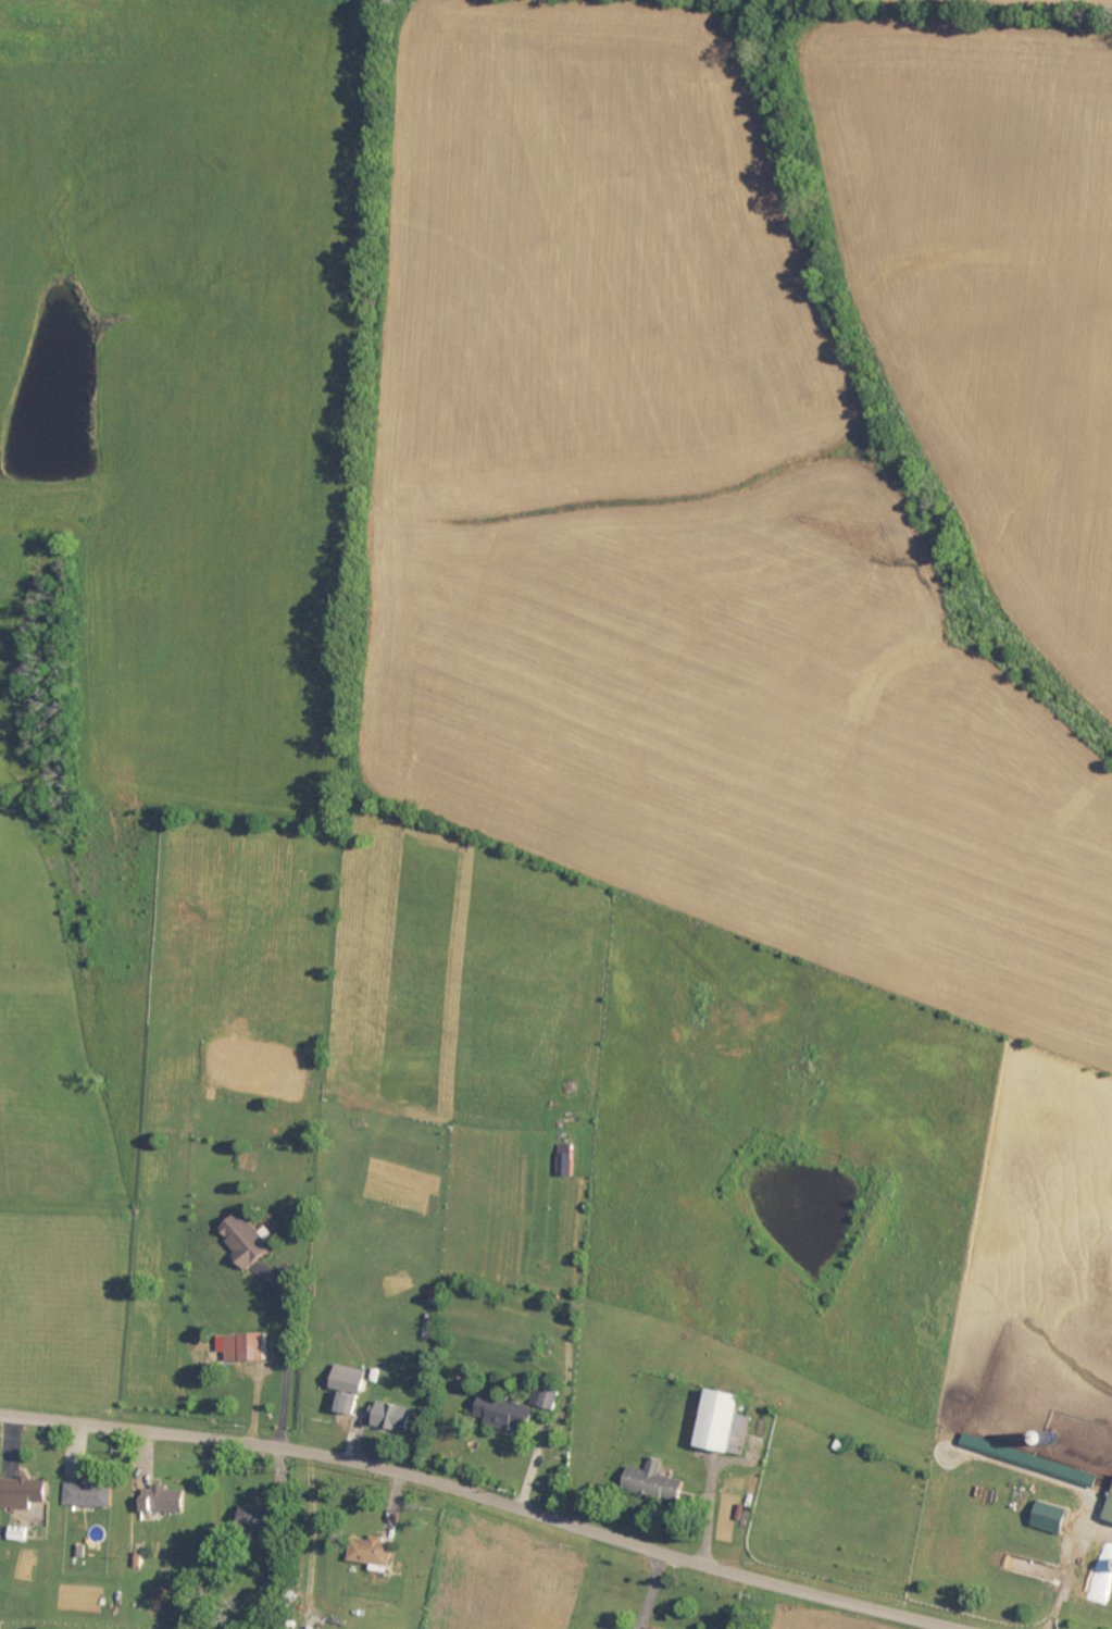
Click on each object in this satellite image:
building: (571, 1160)
building: (252, 1241)
building: (248, 1347)
building: (354, 1380)
building: (548, 1398)
building: (349, 1403)
building: (509, 1414)
building: (397, 1417)
building: (733, 1423)
building: (660, 1482)
building: (28, 1493)
building: (93, 1495)
road: (490, 1495)
building: (167, 1502)
building: (1111, 1516)
building: (1059, 1518)
building: (264, 1520)
building: (377, 1554)

